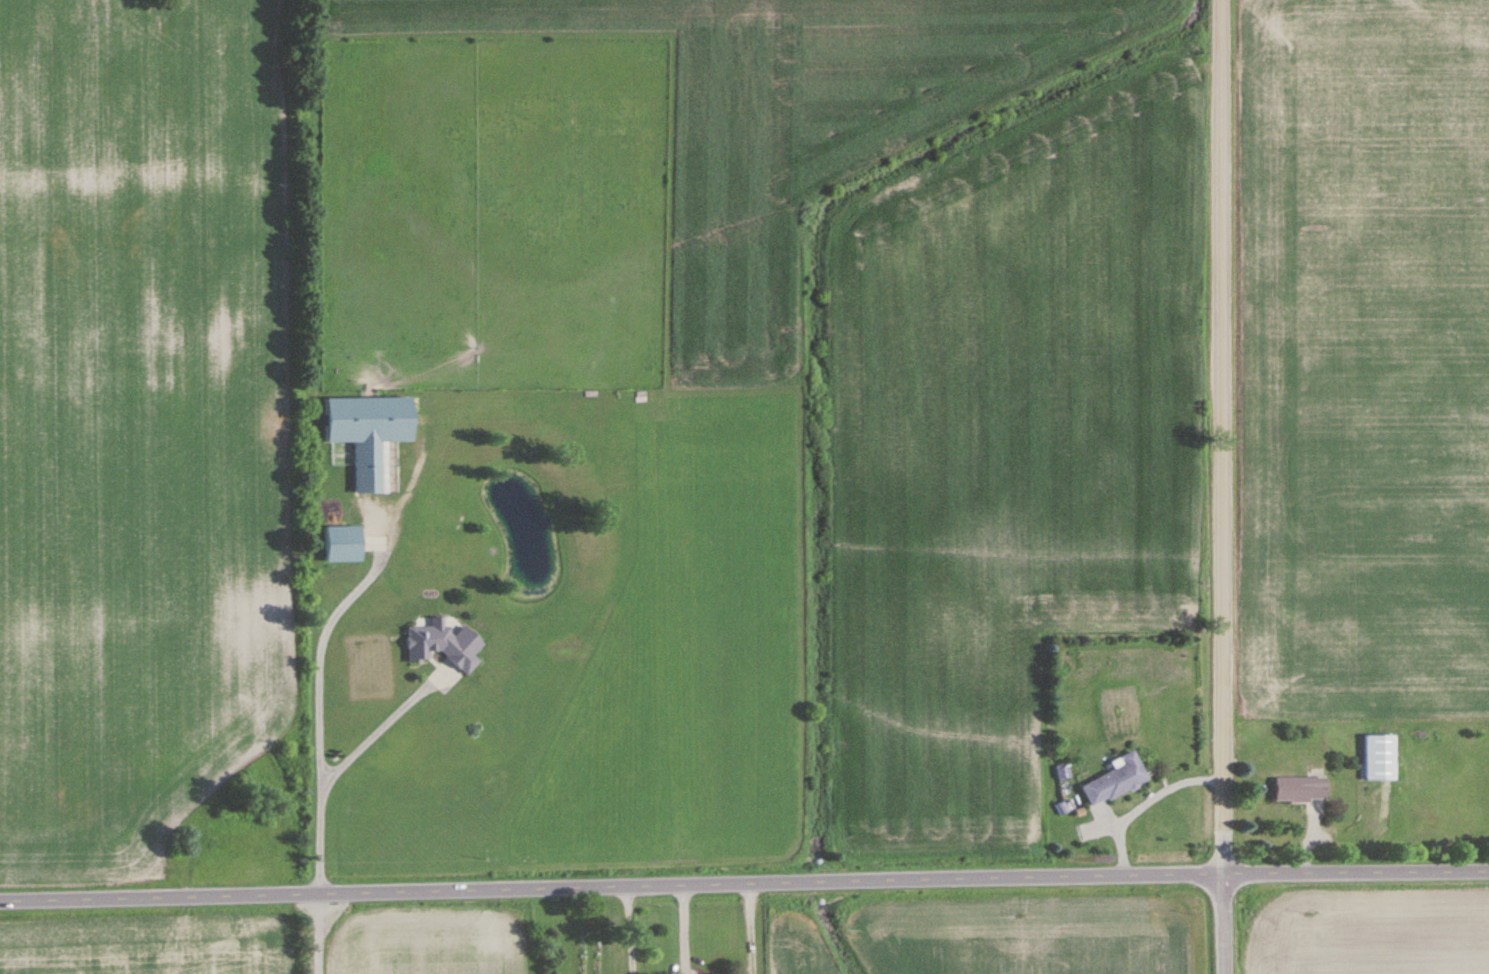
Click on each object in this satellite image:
building: (370, 433)
road: (1221, 436)
building: (344, 543)
road: (321, 626)
building: (443, 644)
building: (1380, 757)
road: (328, 770)
building: (1116, 779)
building: (1301, 789)
road: (1131, 791)
road: (744, 882)
road: (1226, 923)
road: (628, 929)
road: (313, 933)

